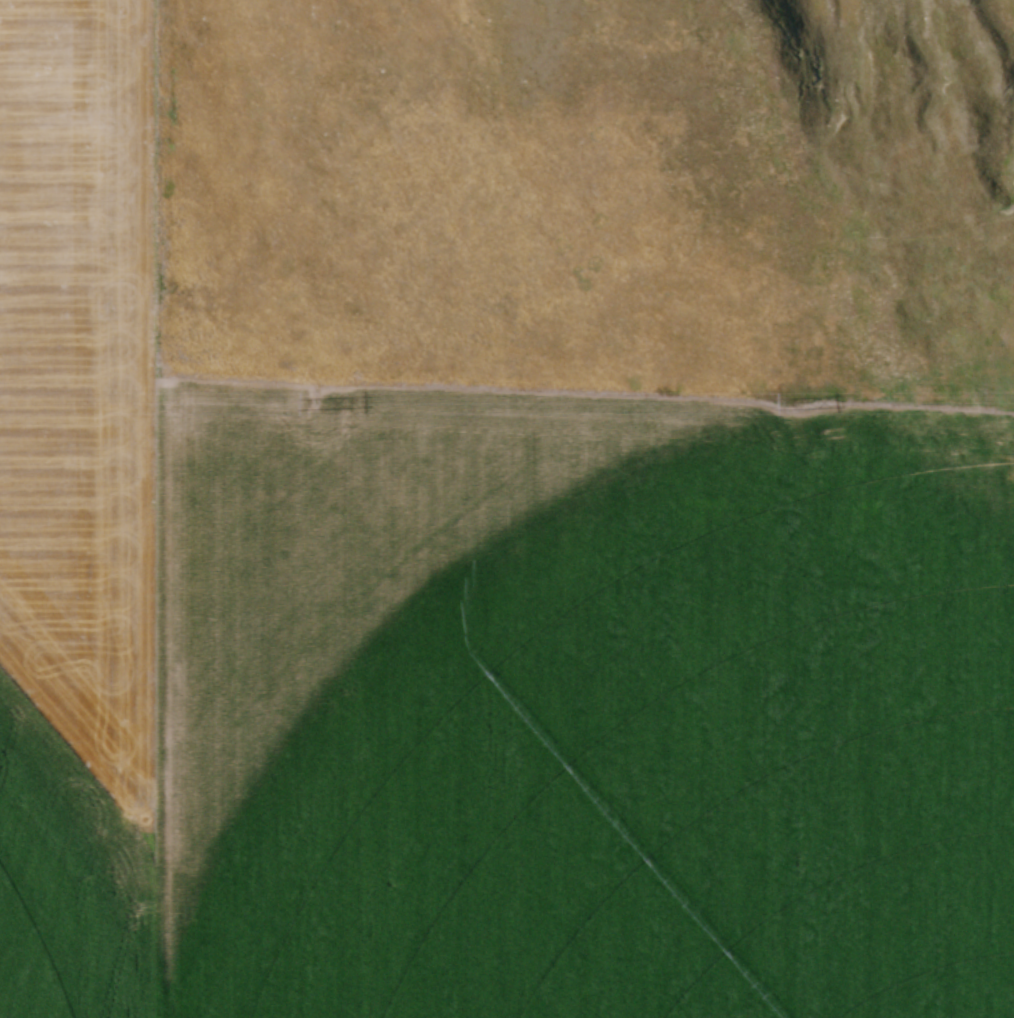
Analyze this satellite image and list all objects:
power tower: (320, 404)
power tower: (799, 406)

